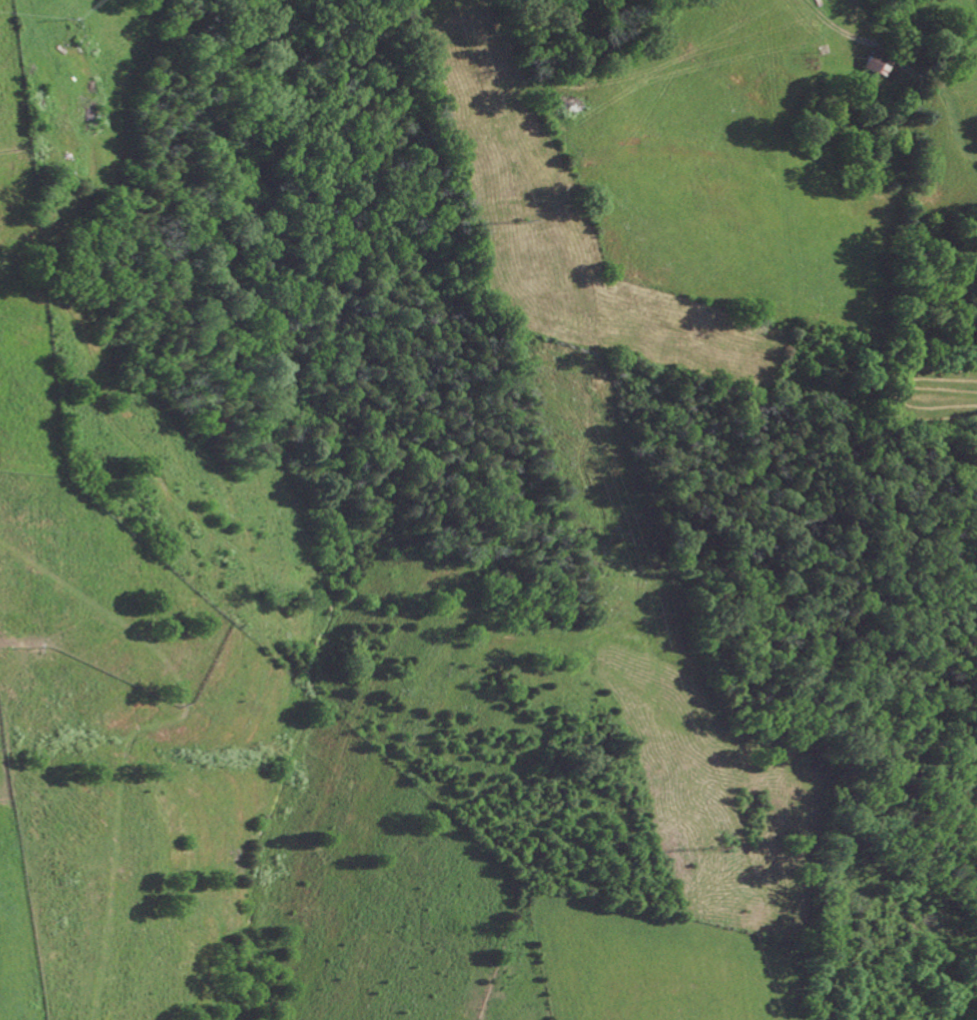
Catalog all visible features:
building: (871, 62)
power tower: (519, 221)
power tower: (703, 845)

